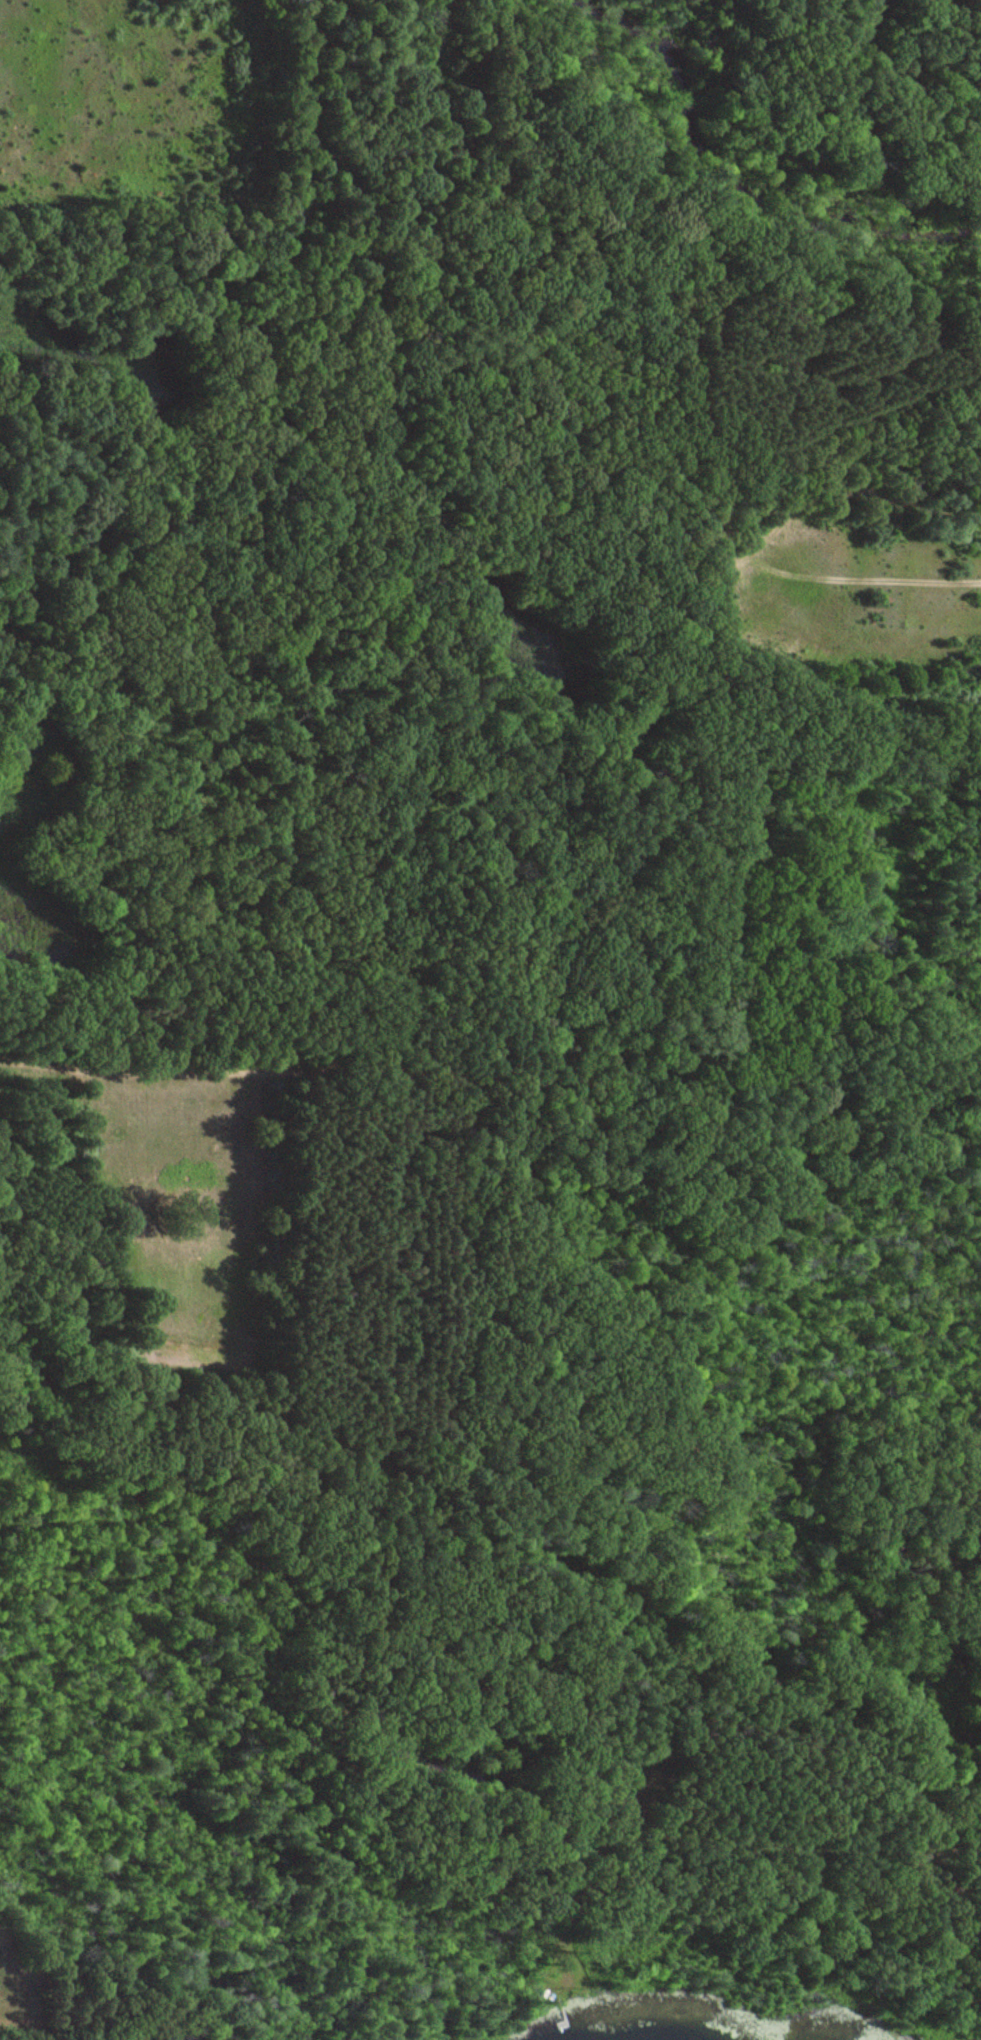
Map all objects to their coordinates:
road: (842, 501)
road: (69, 992)
road: (721, 1031)

